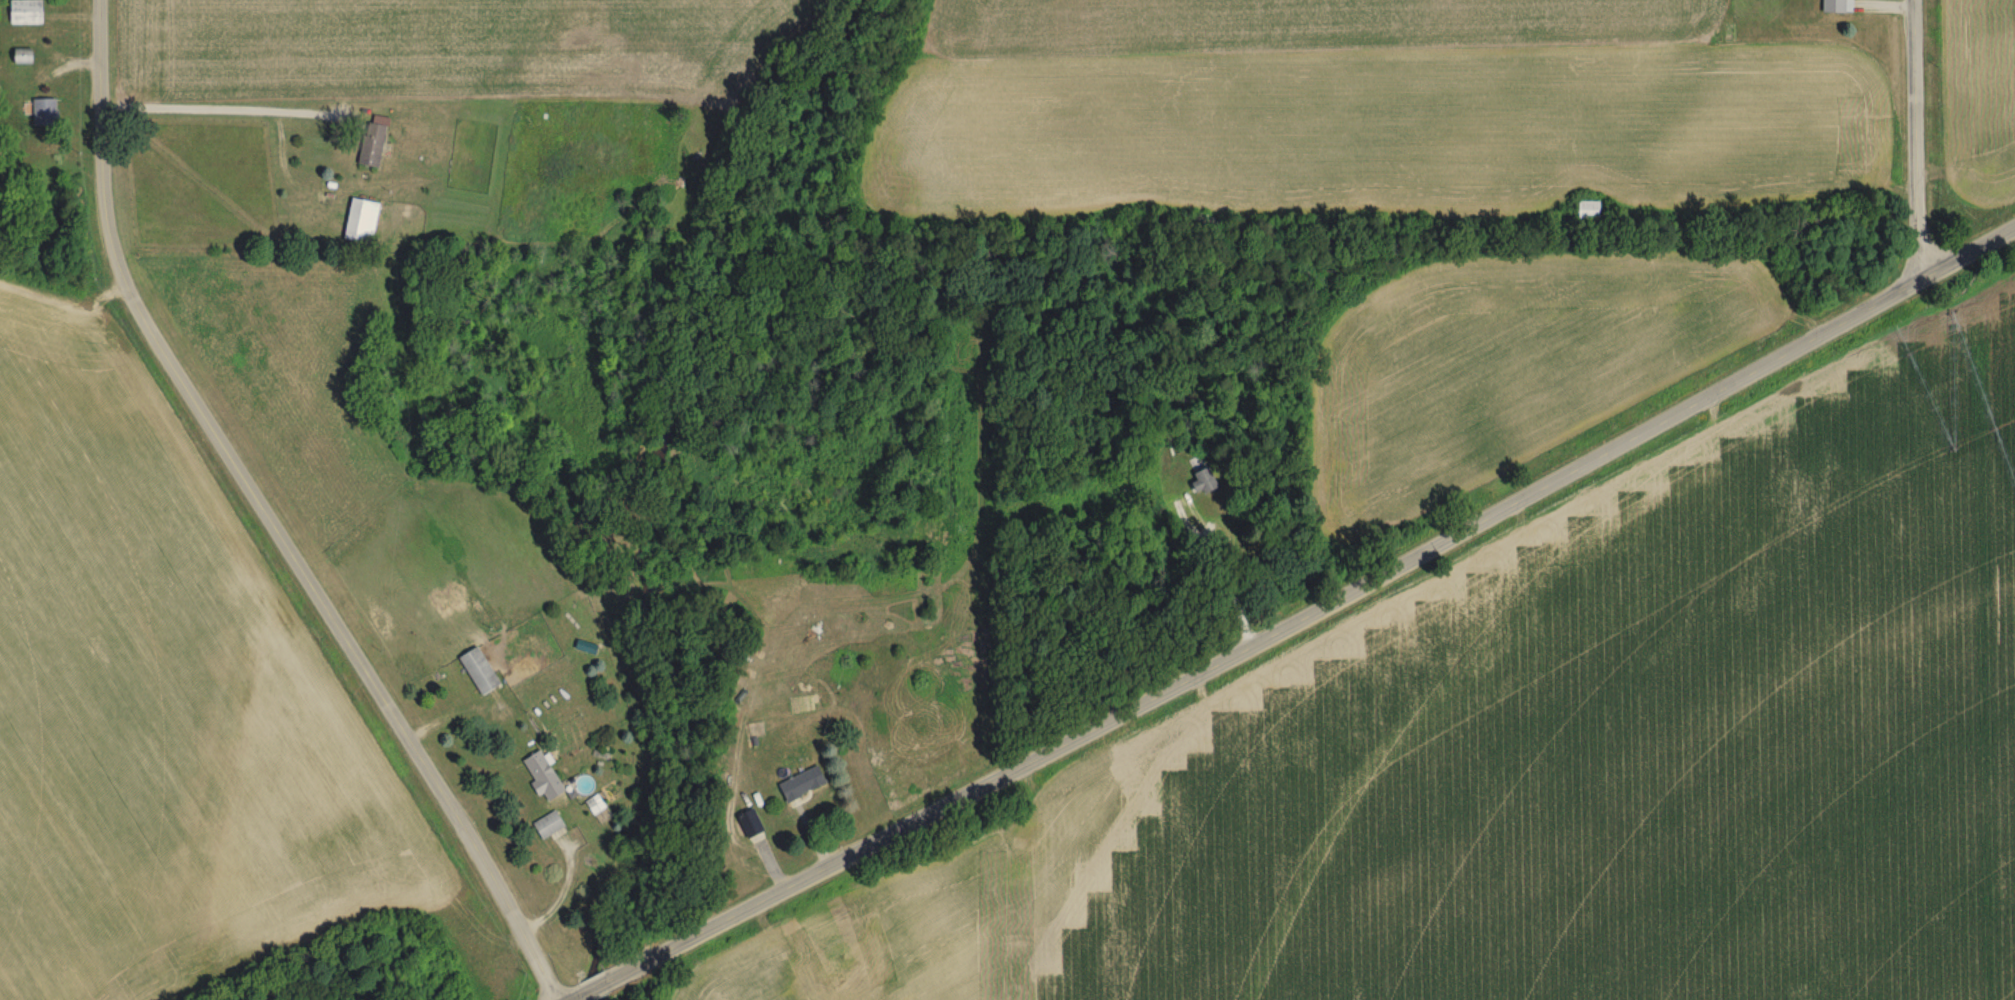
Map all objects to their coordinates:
building: (1831, 6)
building: (24, 12)
building: (20, 57)
road: (212, 102)
building: (41, 113)
road: (1920, 143)
building: (368, 146)
building: (1586, 210)
building: (358, 222)
building: (1198, 482)
road: (259, 518)
road: (1223, 566)
road: (1298, 619)
building: (476, 672)
building: (541, 777)
building: (799, 786)
building: (749, 825)
building: (547, 827)

